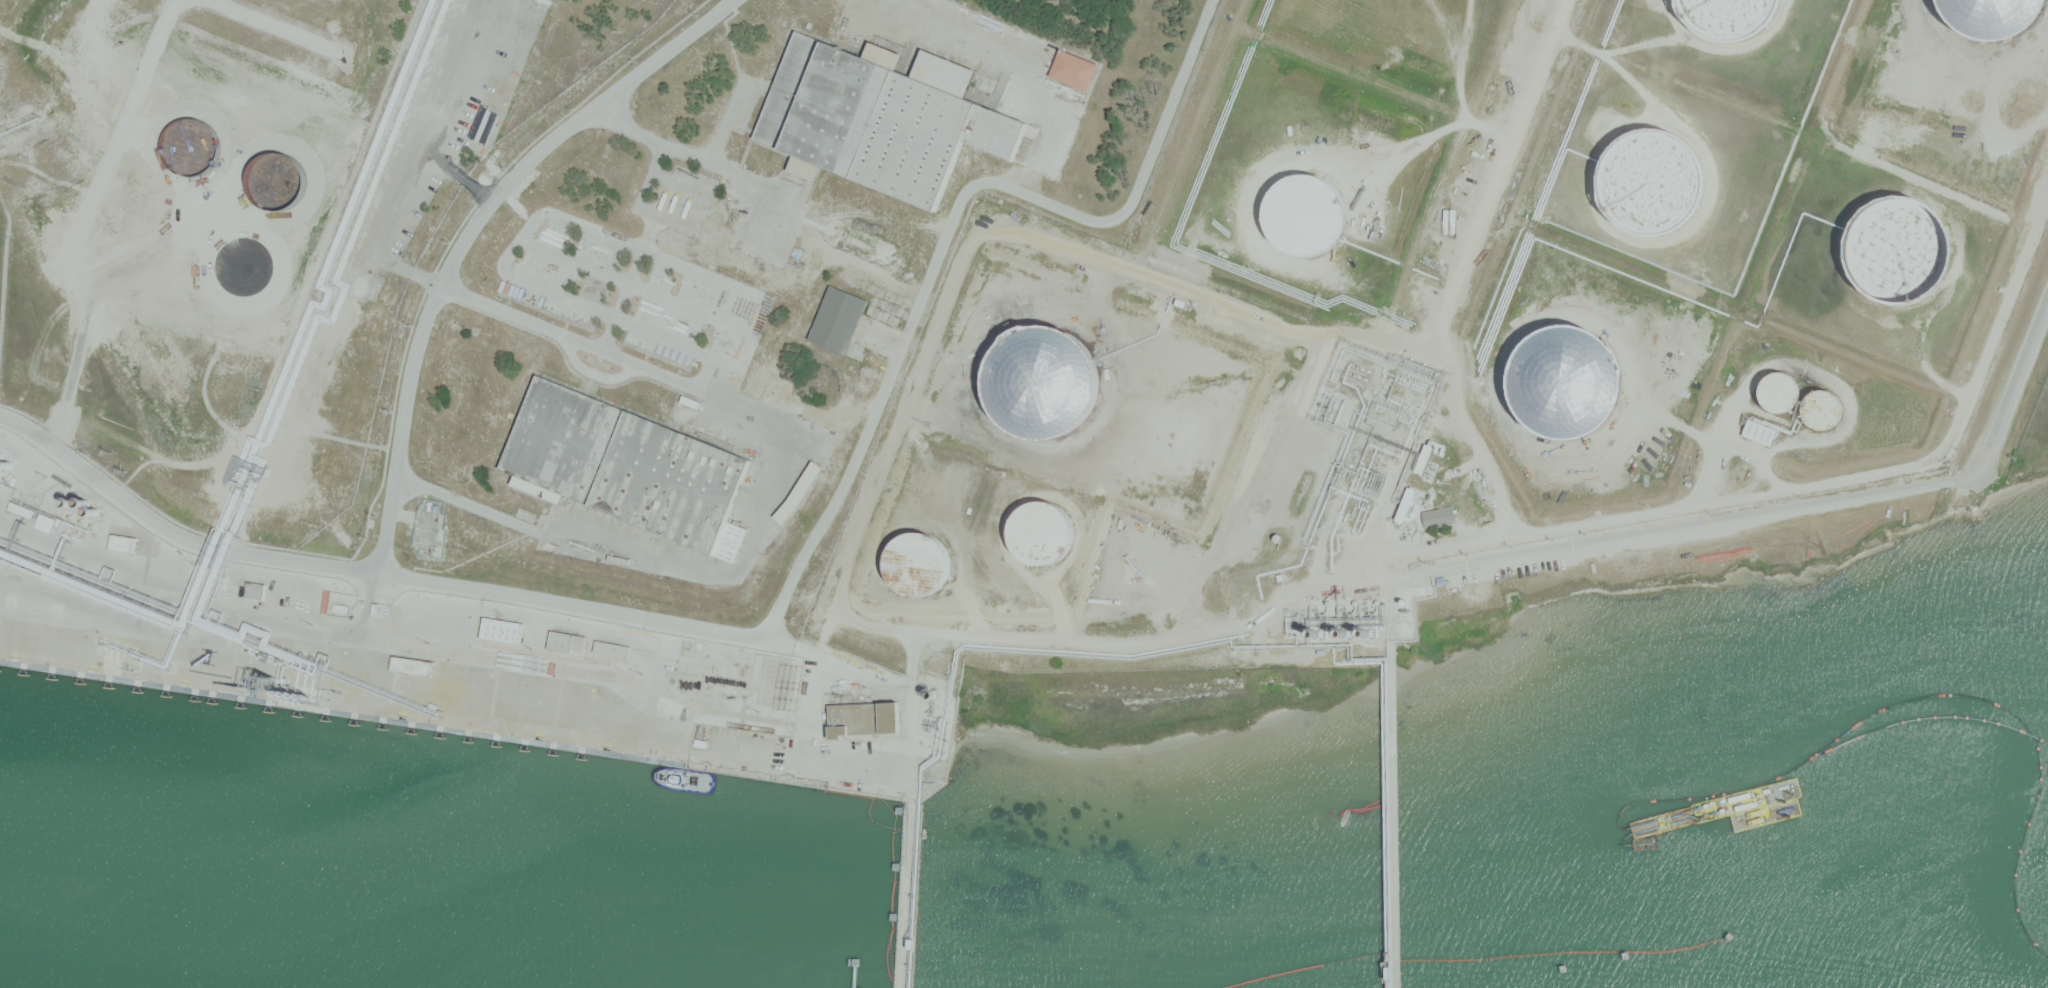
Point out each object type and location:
building: (1729, 17)
storage tank: (1729, 17)
building: (1073, 71)
building: (879, 114)
building: (1651, 183)
storage tank: (1651, 183)
building: (1304, 215)
storage tank: (1304, 215)
road: (468, 234)
building: (396, 240)
building: (859, 241)
building: (1895, 247)
storage tank: (1895, 247)
building: (837, 319)
building: (1568, 383)
storage tank: (1568, 383)
road: (2014, 385)
building: (1779, 390)
storage tank: (1779, 390)
building: (777, 394)
building: (1823, 409)
storage tank: (1823, 409)
building: (1758, 433)
building: (1427, 454)
building: (622, 462)
building: (799, 492)
building: (1421, 495)
building: (1421, 506)
building: (1437, 516)
road: (1696, 525)
building: (1043, 535)
storage tank: (1043, 535)
building: (123, 543)
building: (920, 566)
storage tank: (920, 566)
building: (1441, 580)
building: (255, 590)
road: (782, 606)
building: (343, 609)
building: (380, 611)
building: (1307, 622)
building: (503, 630)
building: (565, 641)
building: (613, 650)
building: (413, 667)
building: (716, 671)
building: (865, 719)
pier: (1389, 829)
pier: (906, 893)

